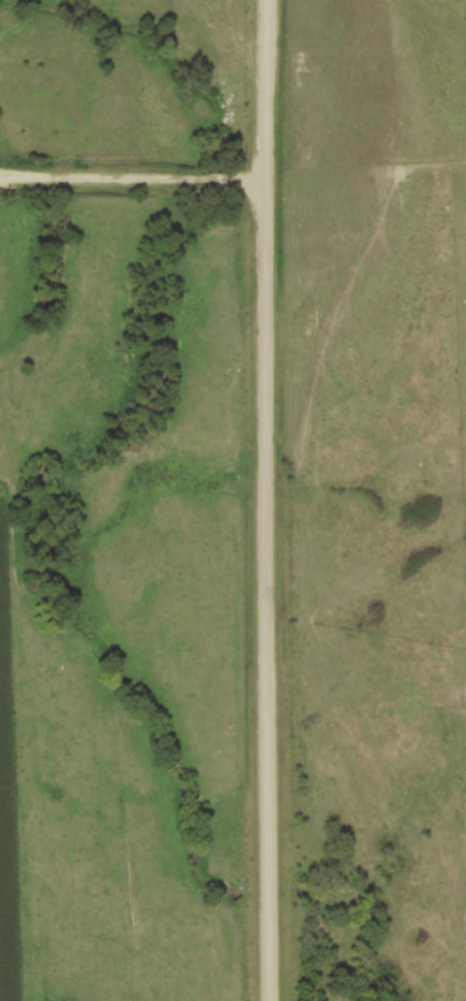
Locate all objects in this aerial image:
road: (132, 178)
road: (265, 500)
crop: (5, 820)

